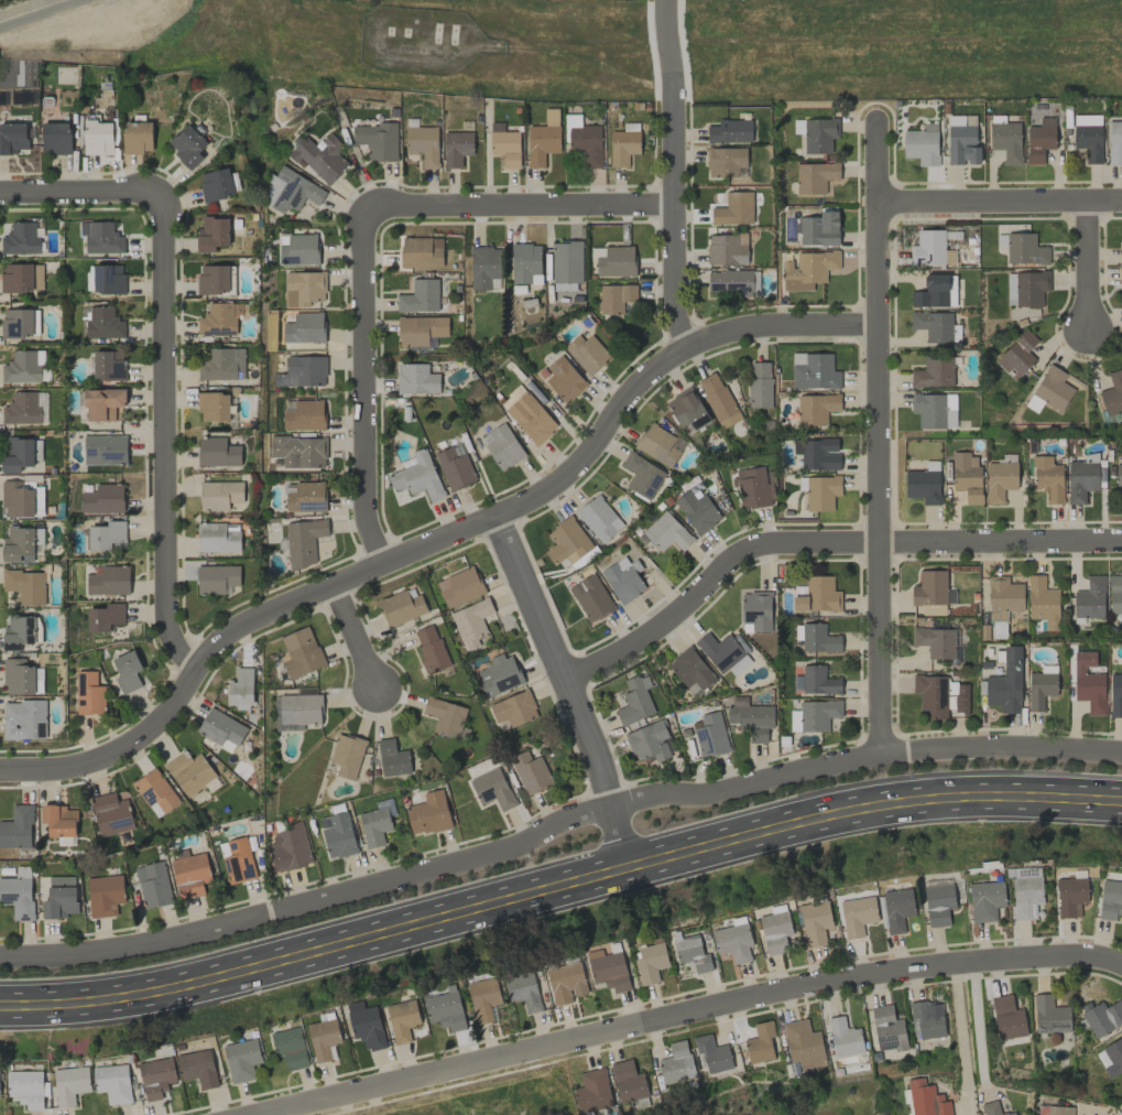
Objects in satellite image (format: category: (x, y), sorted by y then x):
building: (1087, 119)
building: (729, 131)
building: (819, 134)
building: (137, 137)
building: (12, 138)
building: (56, 138)
building: (98, 138)
building: (1039, 139)
building: (378, 141)
building: (584, 141)
building: (1006, 141)
building: (1089, 142)
building: (1114, 142)
building: (542, 143)
building: (422, 144)
building: (623, 144)
building: (922, 144)
building: (962, 144)
building: (187, 145)
building: (504, 145)
building: (456, 148)
building: (320, 156)
building: (726, 162)
road: (669, 174)
building: (815, 176)
building: (216, 184)
building: (290, 191)
road: (87, 192)
road: (999, 204)
road: (521, 206)
building: (733, 209)
building: (819, 229)
building: (213, 234)
building: (101, 237)
building: (21, 238)
building: (928, 248)
building: (299, 249)
building: (727, 249)
building: (1024, 249)
building: (421, 252)
building: (1121, 252)
building: (949, 257)
building: (566, 261)
building: (613, 261)
building: (525, 263)
building: (483, 267)
building: (807, 269)
road: (1085, 272)
building: (21, 277)
building: (108, 279)
building: (214, 279)
building: (1120, 279)
building: (732, 282)
building: (304, 288)
building: (1031, 288)
building: (1010, 289)
building: (934, 292)
building: (420, 296)
building: (616, 297)
building: (217, 320)
building: (20, 322)
building: (101, 323)
building: (933, 325)
building: (304, 327)
building: (420, 329)
building: (586, 353)
building: (1017, 355)
building: (222, 364)
building: (108, 365)
building: (23, 367)
building: (303, 371)
building: (815, 372)
building: (934, 372)
building: (416, 379)
building: (564, 379)
building: (759, 385)
building: (1053, 388)
road: (363, 389)
building: (1112, 393)
building: (718, 400)
building: (102, 403)
building: (214, 407)
building: (21, 408)
building: (816, 408)
building: (687, 410)
building: (934, 410)
building: (304, 415)
building: (531, 418)
road: (876, 436)
building: (658, 444)
building: (501, 446)
building: (105, 450)
road: (162, 450)
building: (298, 451)
building: (217, 452)
building: (817, 453)
building: (18, 454)
building: (455, 467)
building: (1118, 470)
building: (641, 475)
building: (417, 476)
building: (967, 476)
building: (1048, 478)
building: (1000, 480)
building: (1081, 480)
building: (754, 486)
building: (923, 486)
building: (821, 492)
building: (219, 495)
building: (305, 496)
building: (102, 498)
building: (21, 499)
building: (697, 511)
building: (598, 519)
building: (666, 532)
building: (106, 535)
building: (217, 537)
road: (439, 538)
building: (39, 540)
building: (303, 541)
building: (566, 541)
road: (820, 542)
building: (18, 544)
building: (216, 578)
building: (623, 578)
building: (108, 581)
building: (25, 586)
building: (459, 586)
building: (929, 588)
building: (1114, 594)
building: (818, 595)
building: (591, 597)
building: (1003, 597)
building: (1089, 598)
building: (1042, 602)
building: (401, 607)
building: (755, 610)
building: (105, 617)
building: (470, 623)
building: (20, 629)
road: (353, 637)
building: (818, 639)
building: (935, 641)
building: (431, 648)
building: (301, 652)
building: (722, 653)
building: (127, 671)
building: (690, 671)
building: (499, 674)
building: (22, 678)
building: (818, 680)
building: (1006, 683)
building: (1042, 686)
building: (240, 689)
road: (568, 689)
building: (1090, 692)
building: (89, 693)
building: (1115, 695)
building: (634, 701)
building: (513, 708)
building: (297, 711)
building: (818, 714)
building: (445, 716)
building: (26, 717)
building: (750, 717)
building: (794, 719)
building: (220, 727)
building: (710, 735)
building: (650, 741)
building: (347, 755)
building: (392, 758)
building: (189, 771)
building: (530, 772)
building: (492, 788)
building: (155, 792)
building: (428, 813)
building: (110, 814)
building: (59, 821)
road: (556, 822)
building: (373, 826)
building: (17, 827)
building: (337, 834)
building: (288, 848)
building: (237, 859)
building: (190, 875)
building: (152, 885)
road: (558, 886)
building: (105, 895)
building: (1026, 895)
building: (1070, 896)
building: (59, 897)
building: (1111, 899)
building: (985, 900)
building: (938, 903)
building: (897, 908)
building: (858, 916)
building: (815, 922)
building: (775, 931)
building: (732, 942)
building: (691, 953)
building: (651, 962)
building: (566, 982)
building: (523, 989)
building: (483, 998)
building: (444, 1010)
road: (691, 1011)
building: (1049, 1015)
building: (1102, 1016)
building: (1007, 1017)
building: (402, 1019)
building: (927, 1019)
road: (976, 1021)
road: (957, 1024)
building: (367, 1027)
building: (887, 1028)
building: (324, 1038)
building: (845, 1038)
building: (760, 1042)
building: (803, 1044)
building: (291, 1047)
building: (712, 1053)
building: (1113, 1057)
building: (242, 1059)
building: (676, 1063)
building: (198, 1068)
building: (156, 1076)
building: (628, 1081)
building: (112, 1083)
building: (70, 1084)
building: (25, 1087)
building: (592, 1091)
building: (926, 1098)
building: (993, 1108)
building: (1059, 1111)
road: (1121, 1112)

